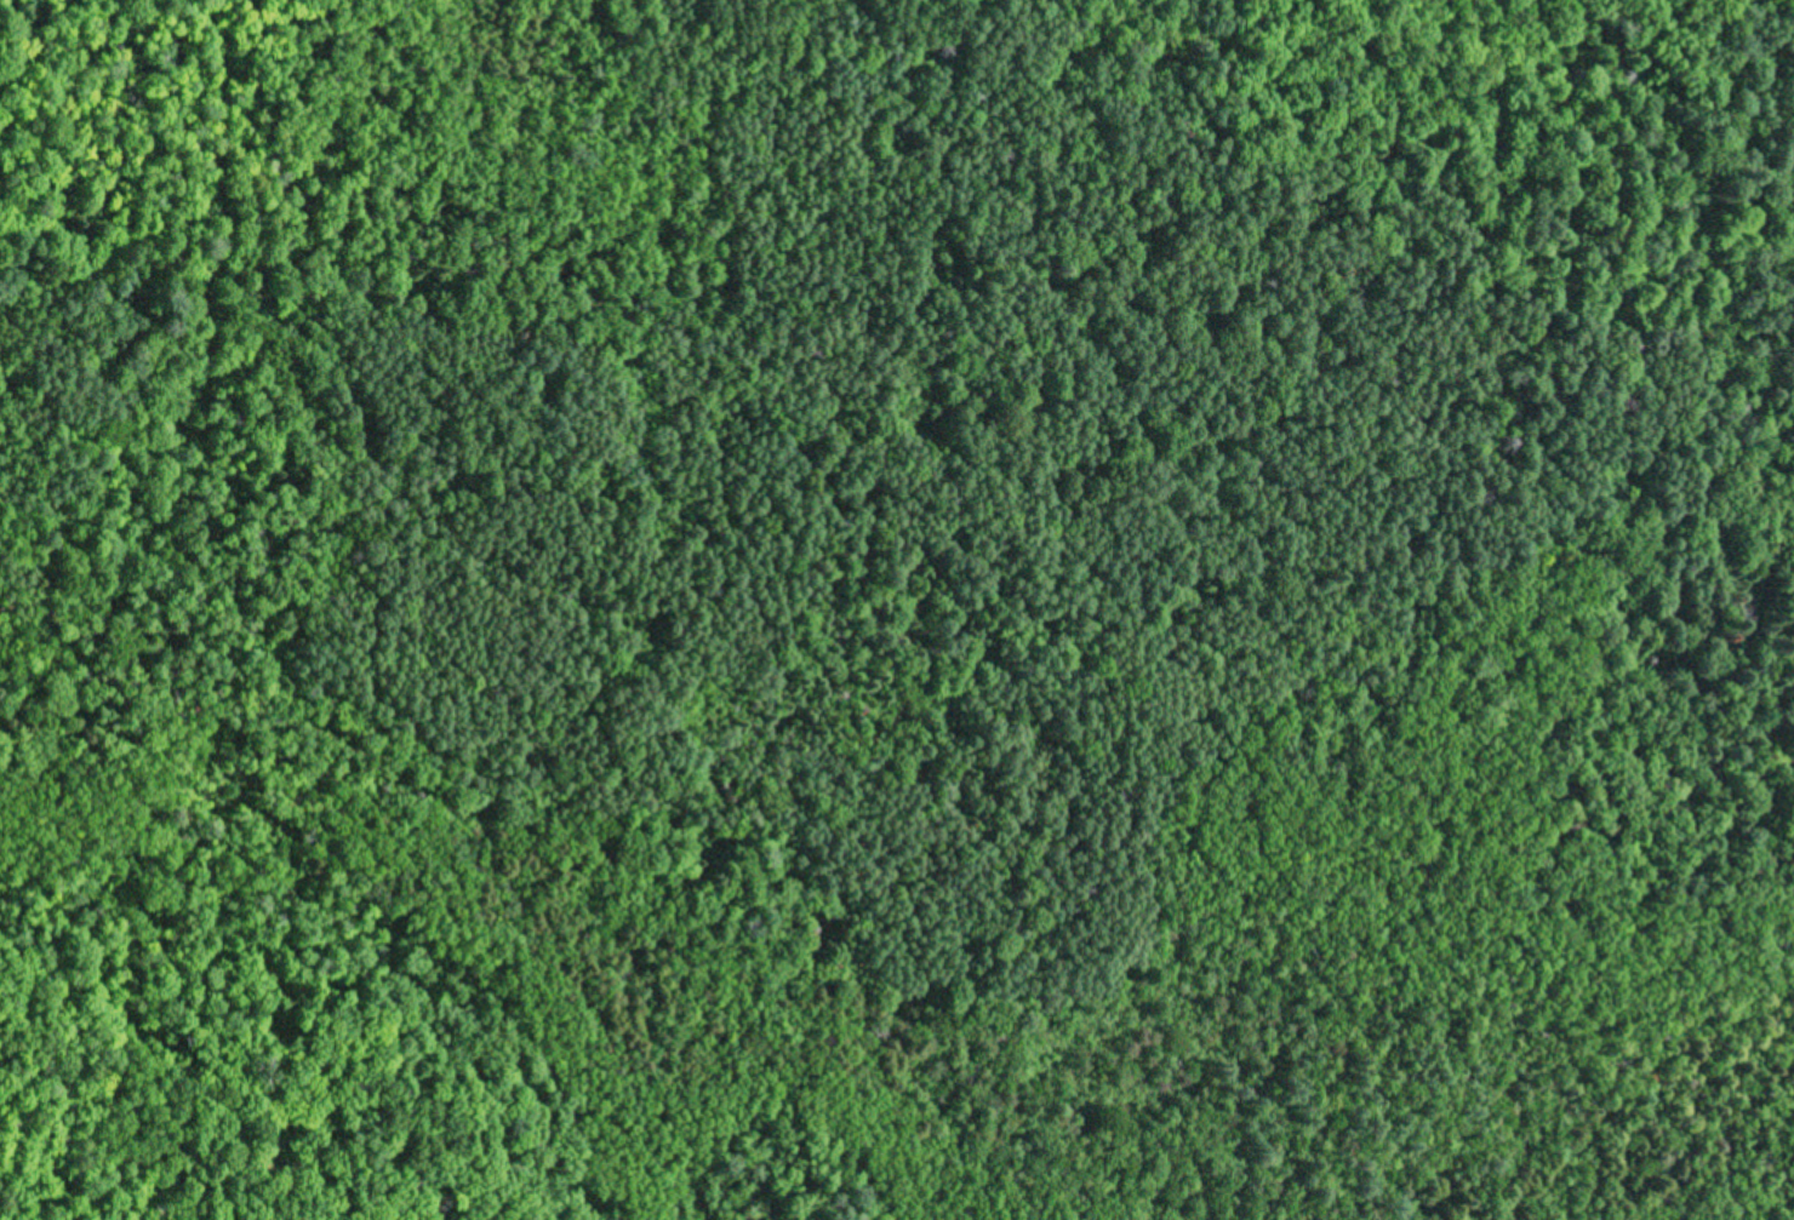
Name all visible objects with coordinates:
road: (973, 58)
road: (1456, 296)
road: (949, 315)
road: (201, 393)

